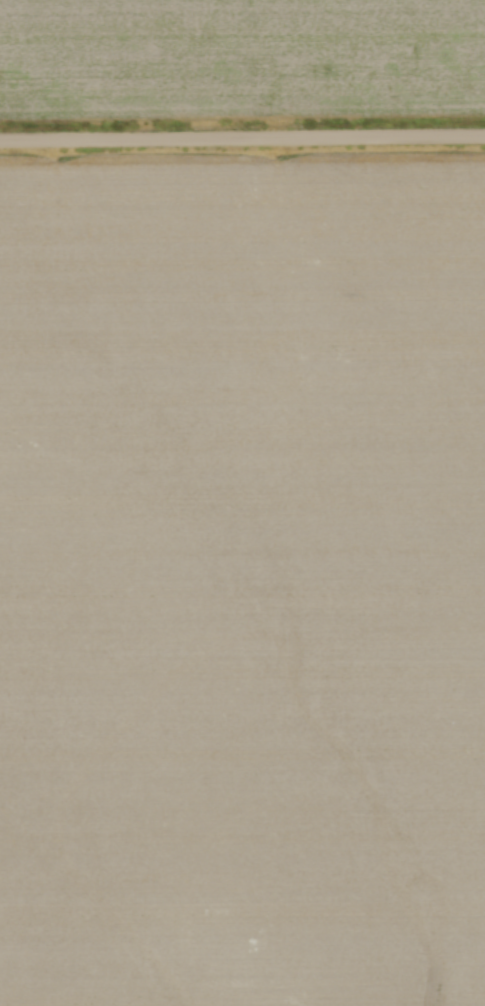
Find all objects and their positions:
road: (242, 135)

